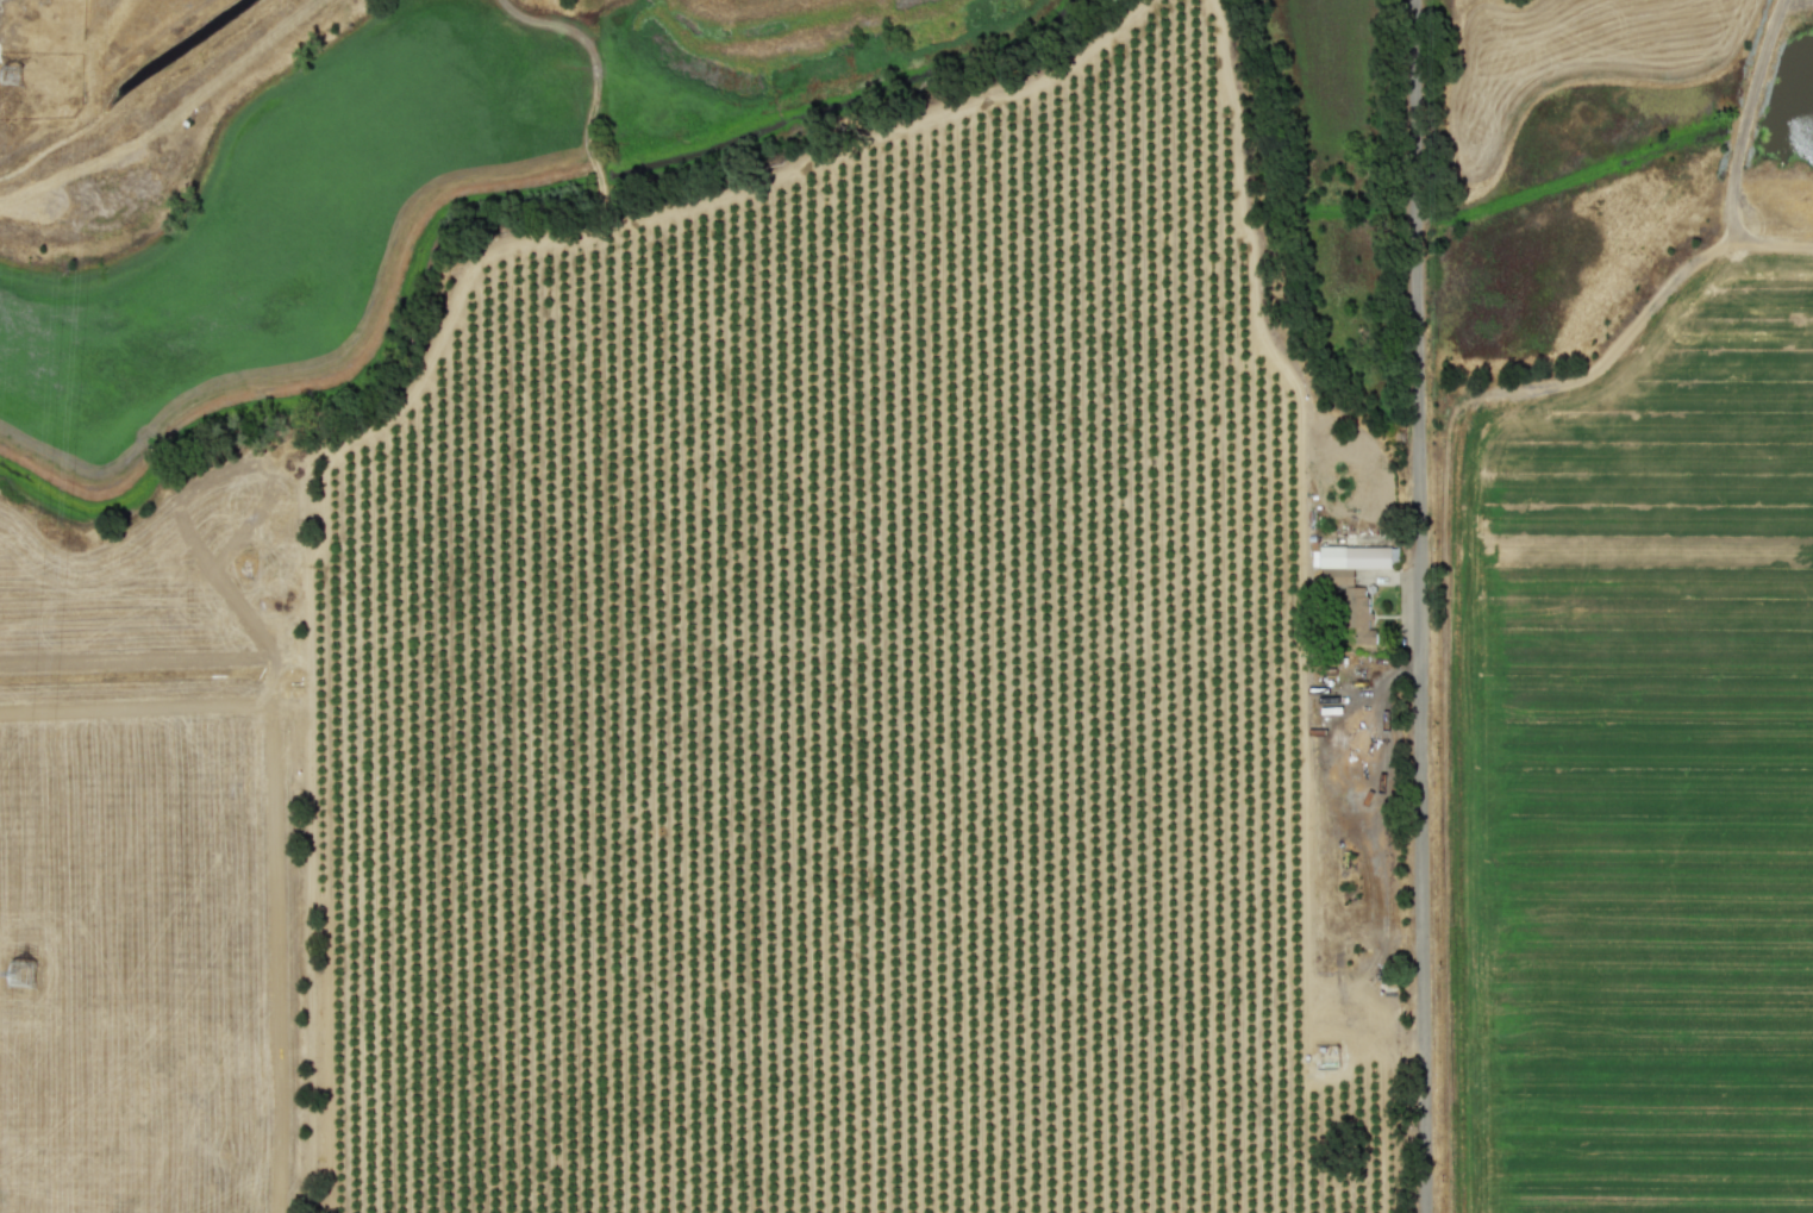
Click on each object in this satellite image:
power tower: (4, 74)
building: (1355, 606)
road: (1420, 606)
crop: (938, 725)
power tower: (27, 981)

